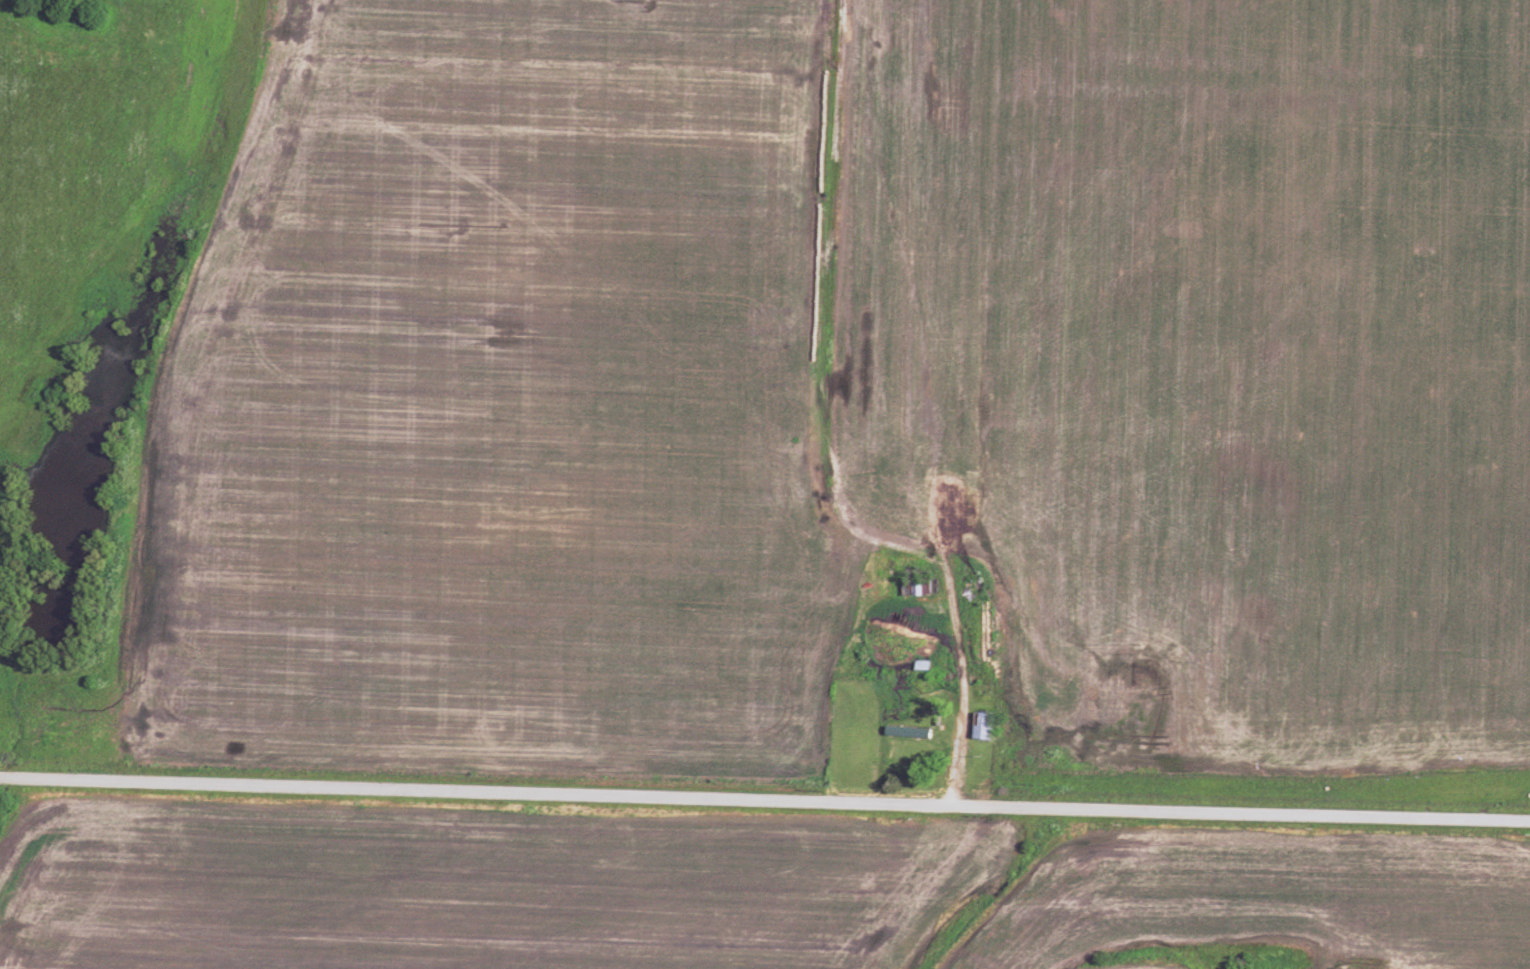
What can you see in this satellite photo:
road: (961, 693)
building: (983, 722)
building: (907, 729)
road: (765, 807)

